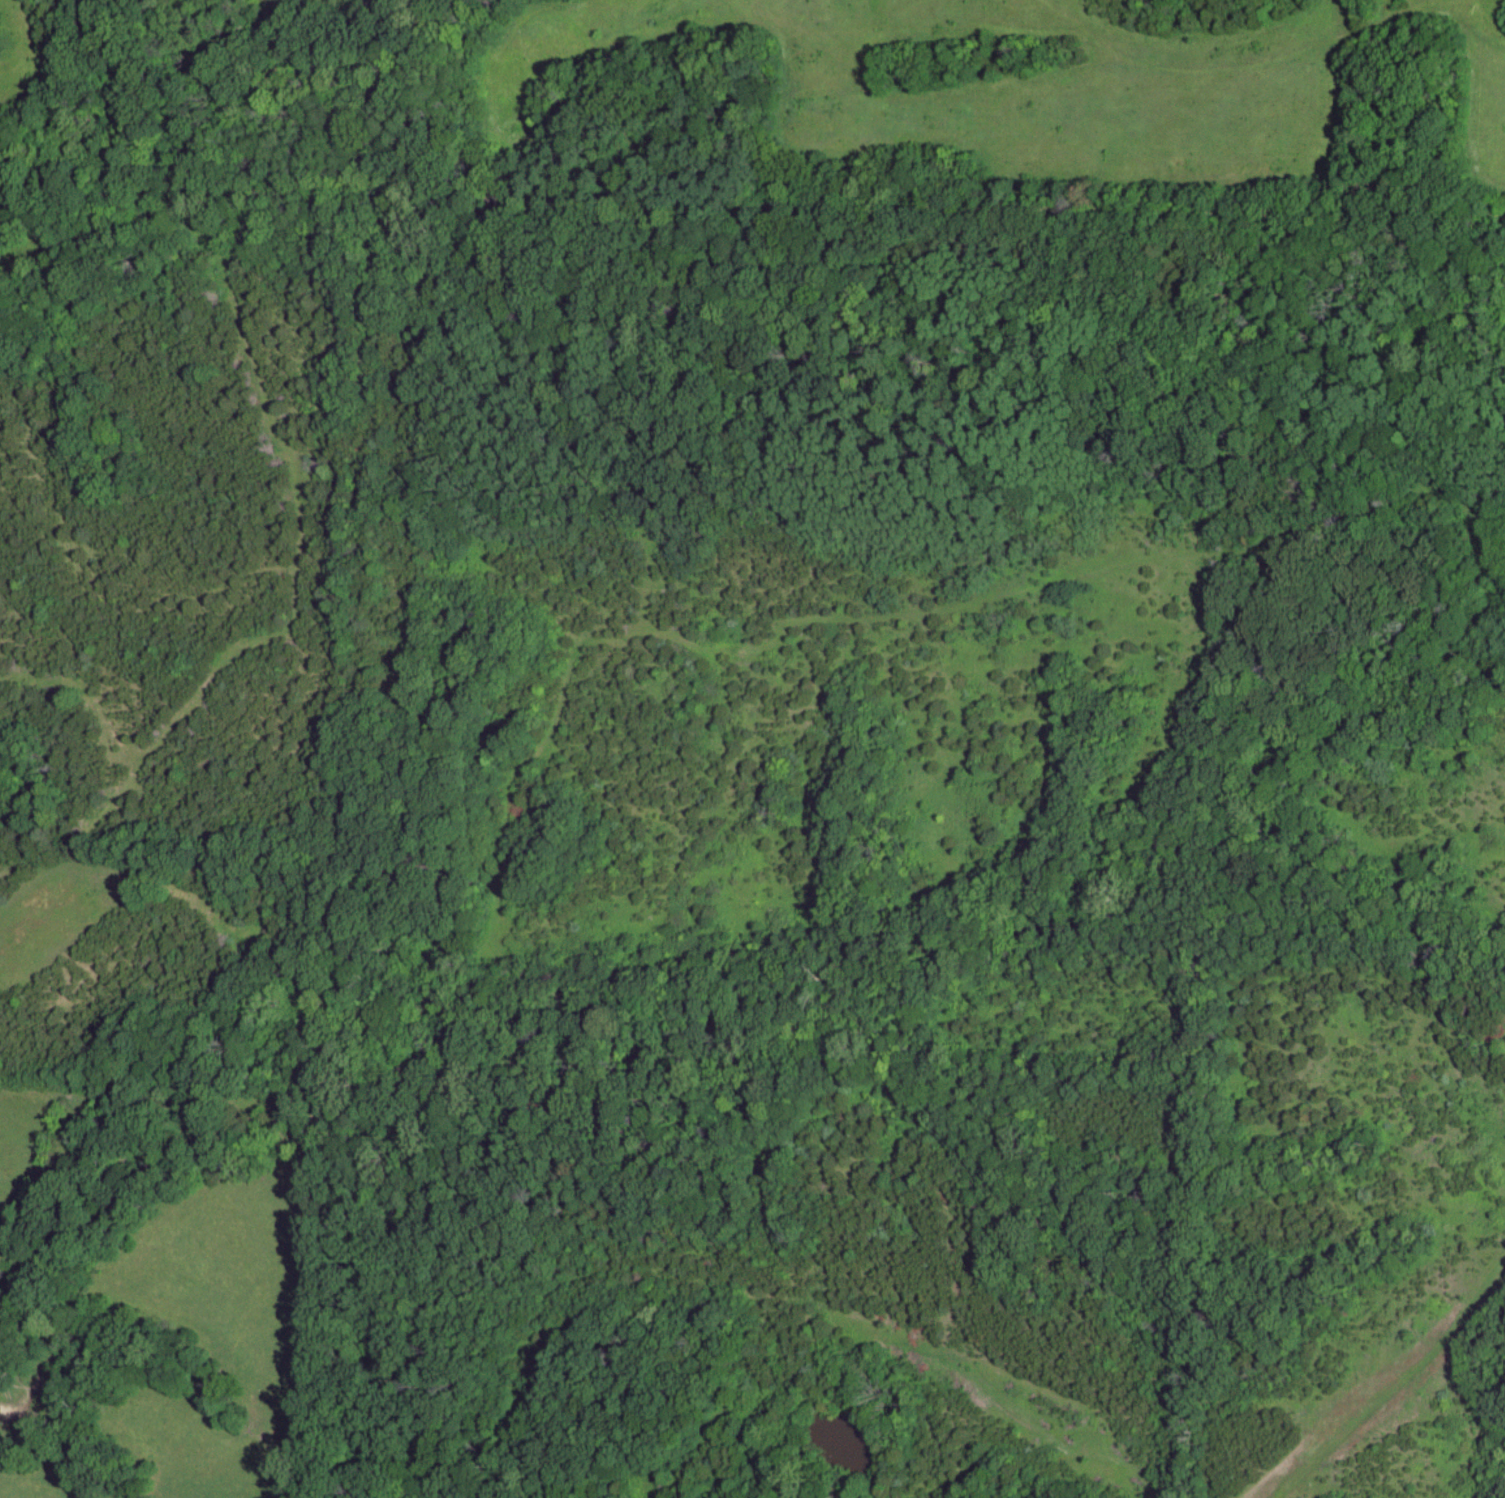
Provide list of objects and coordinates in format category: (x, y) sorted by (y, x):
road: (851, 208)
road: (99, 233)

